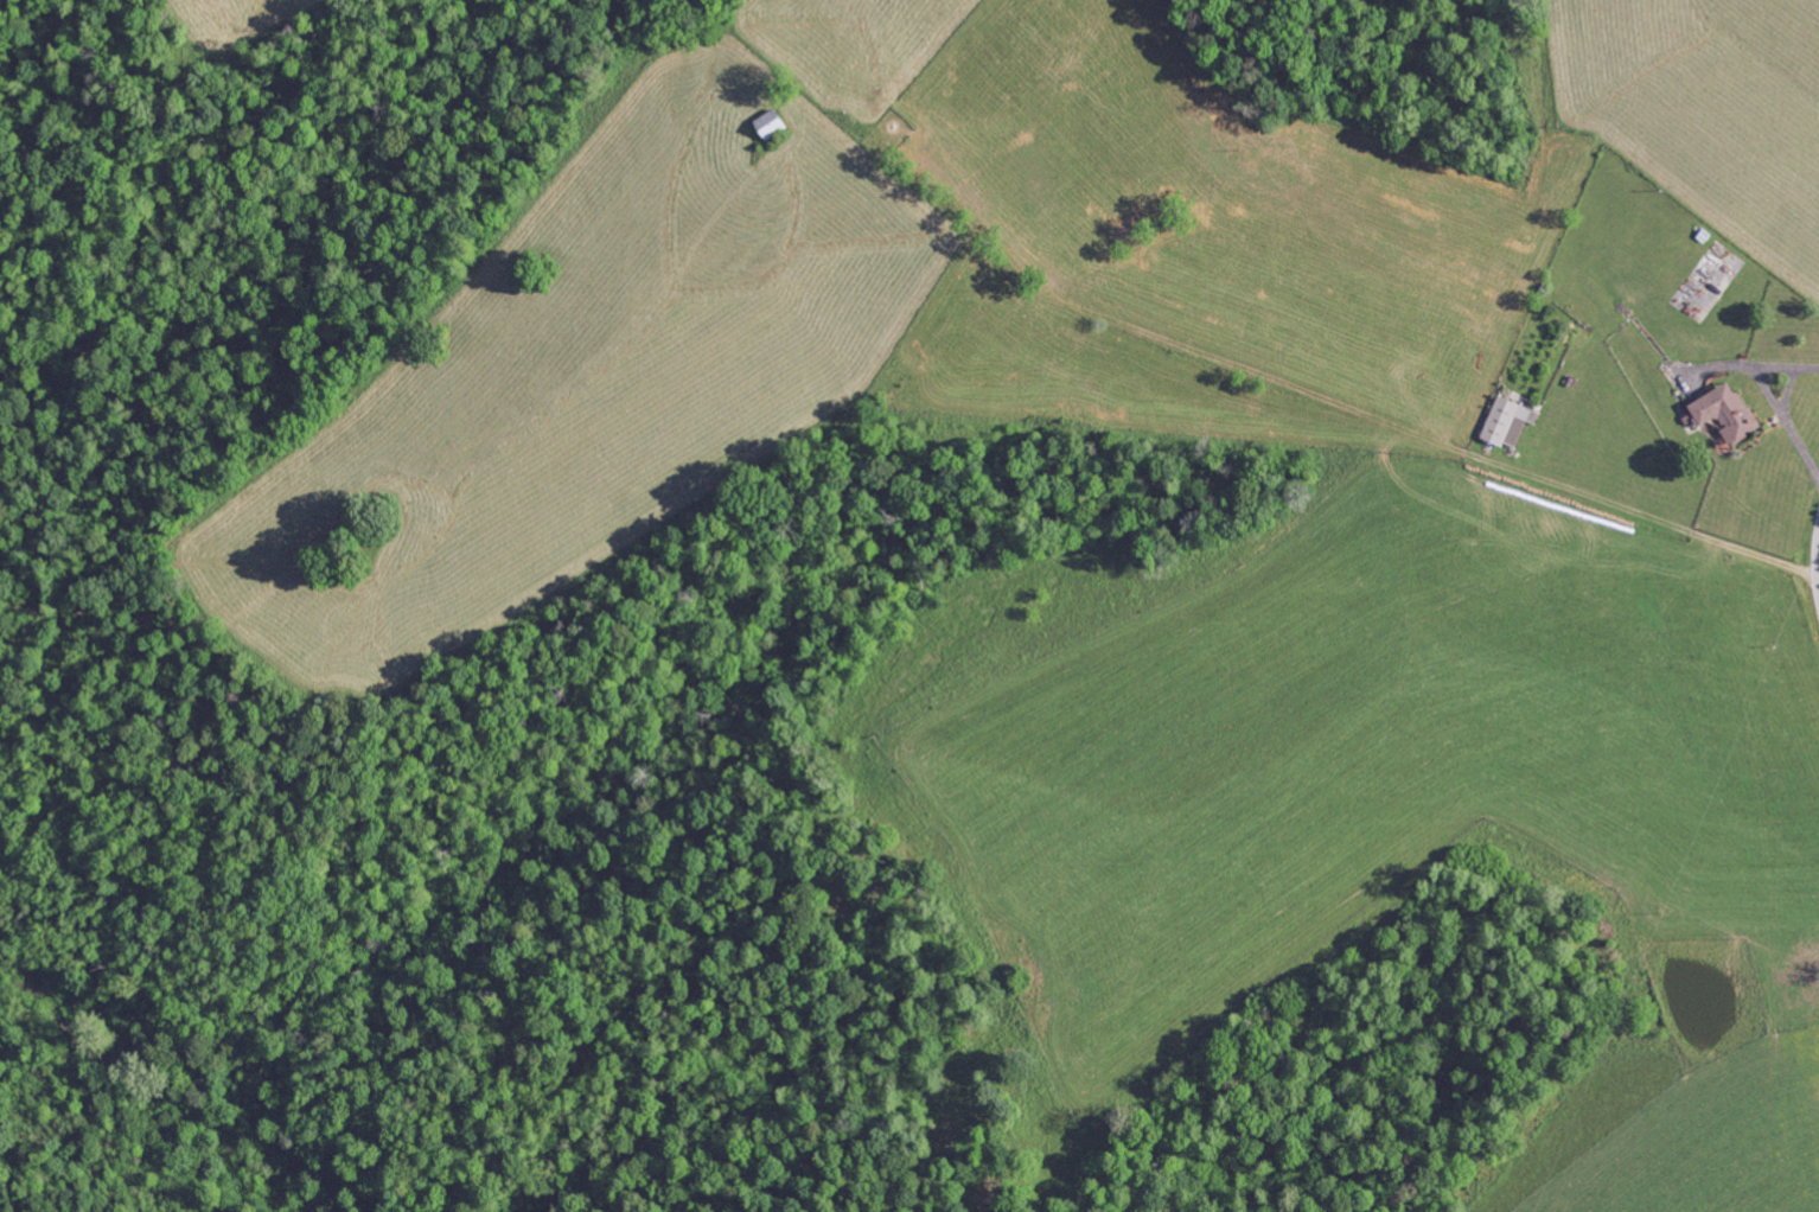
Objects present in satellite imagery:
building: (1731, 414)
building: (1510, 423)

